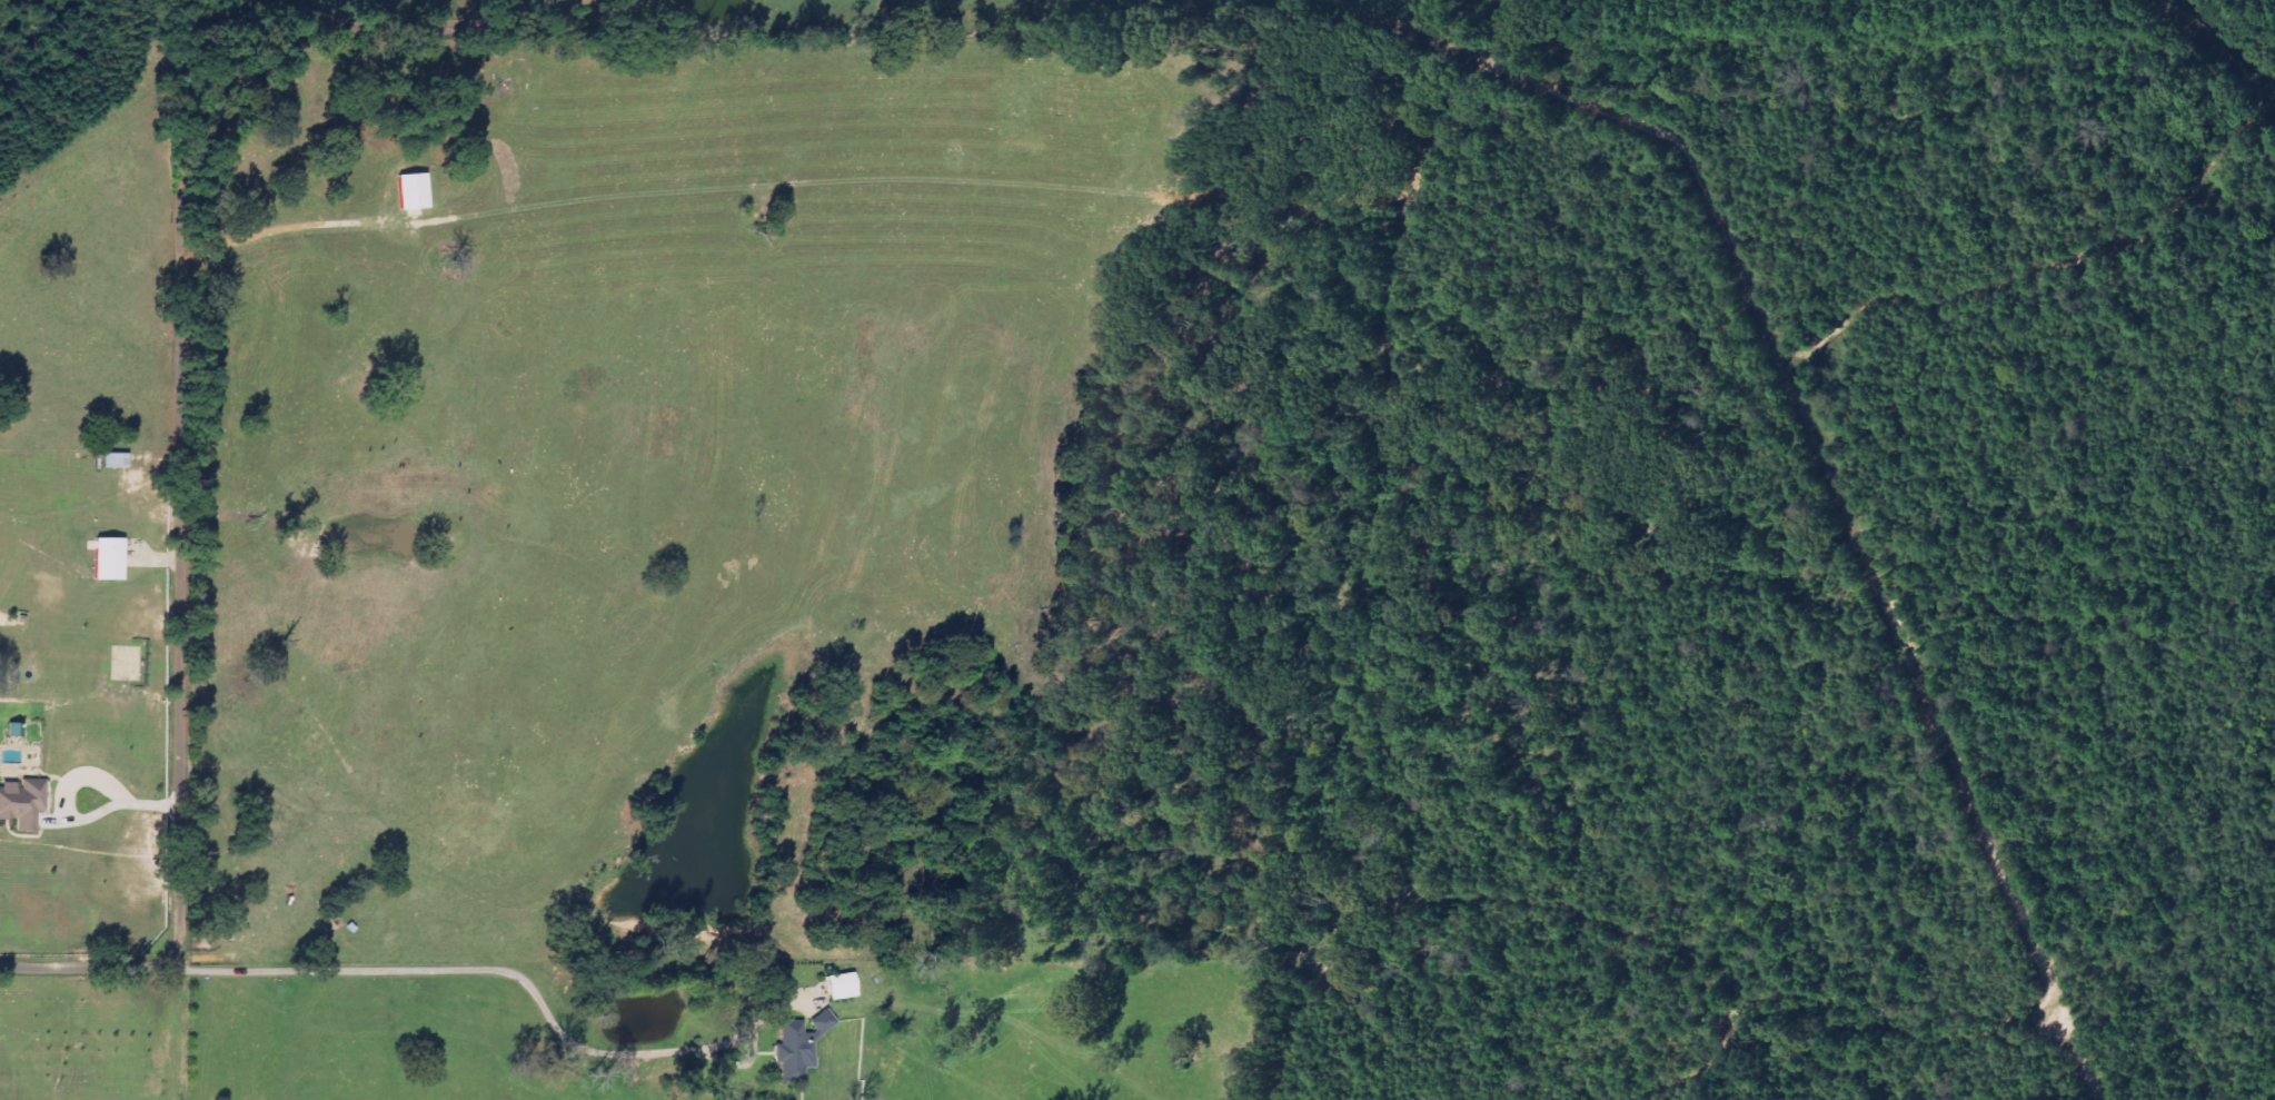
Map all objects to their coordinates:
road: (509, 1)
building: (415, 192)
road: (182, 452)
building: (110, 558)
building: (23, 803)
road: (510, 974)
building: (844, 987)
building: (799, 1047)

